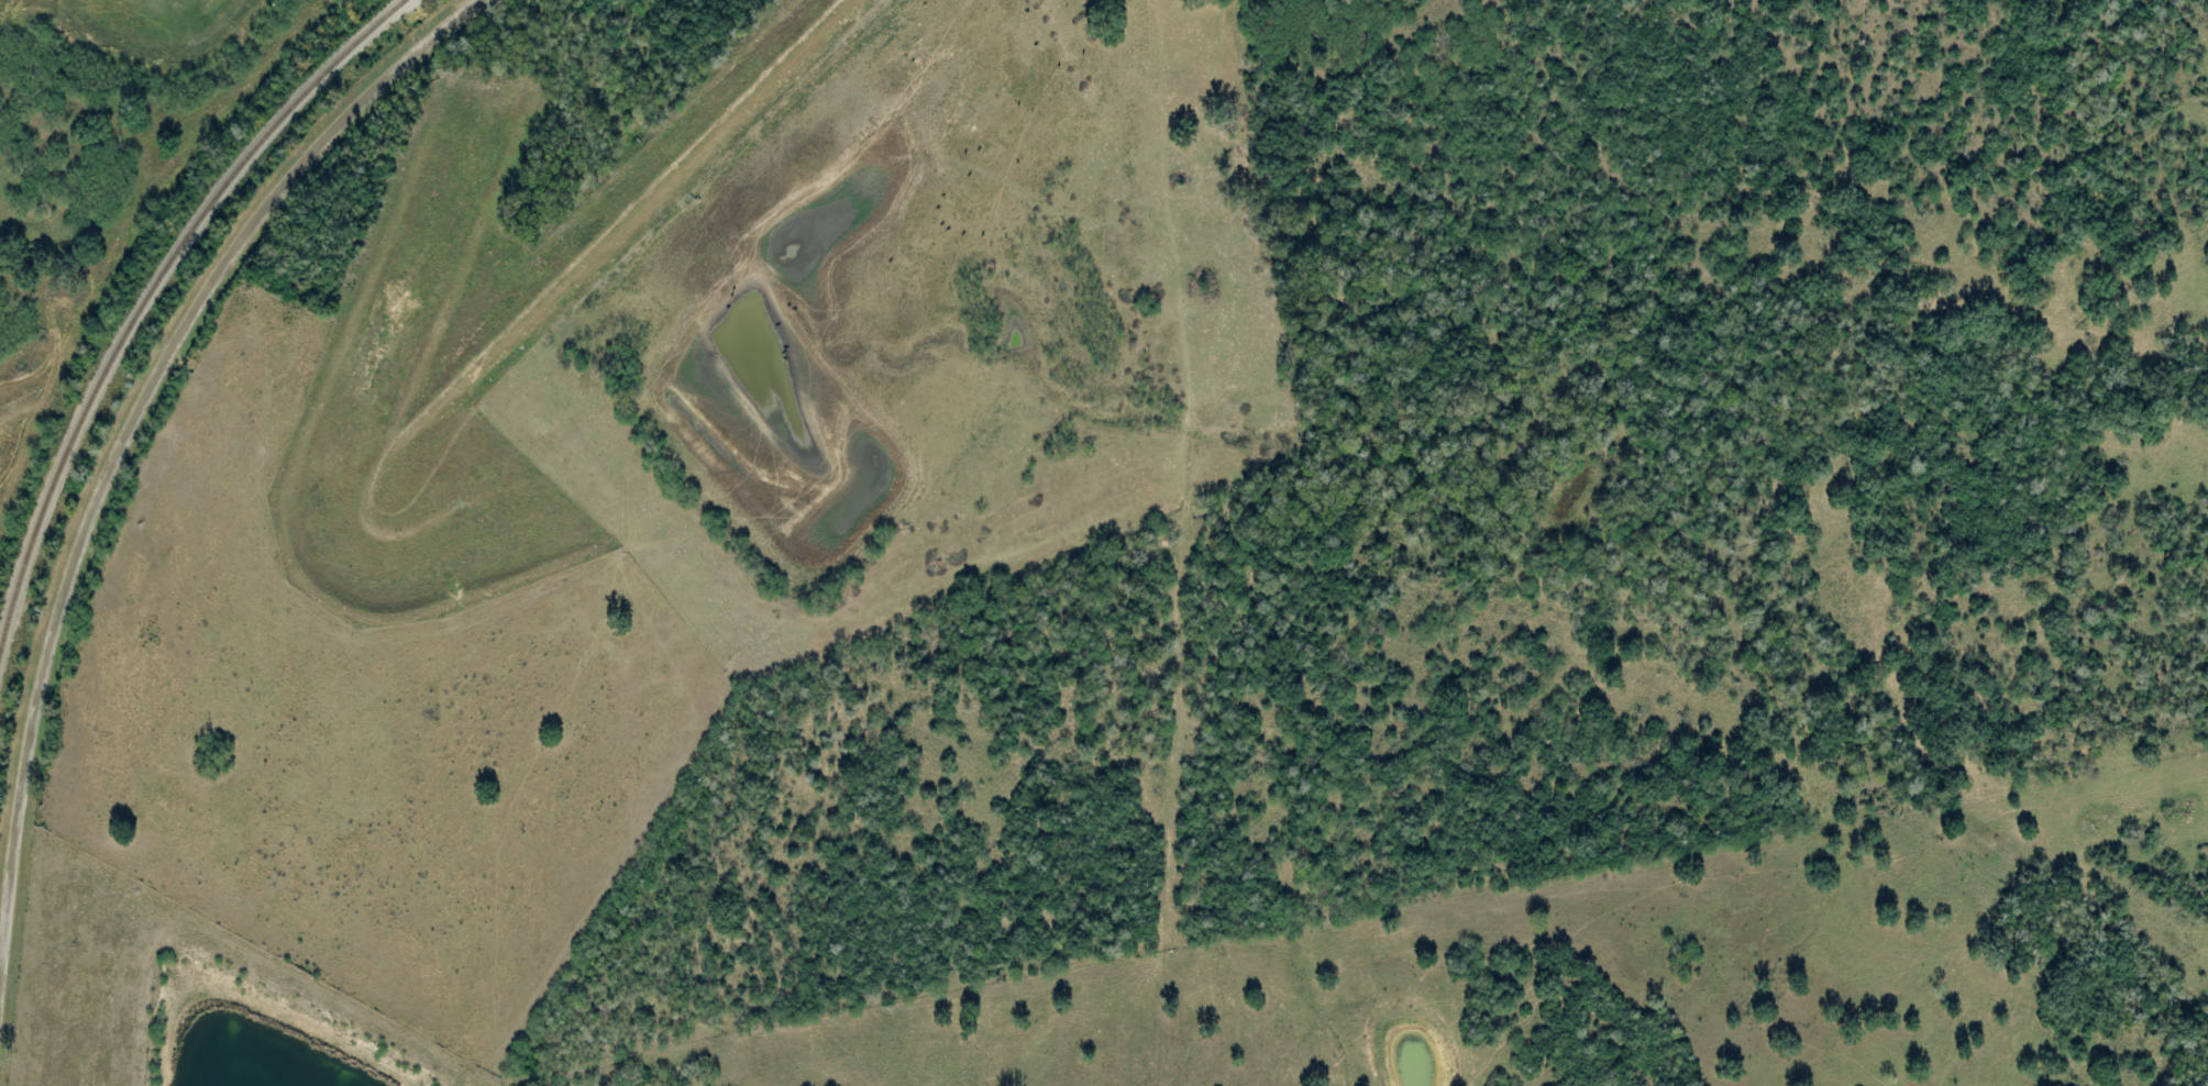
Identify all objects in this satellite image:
railway: (151, 288)
road: (122, 450)
road: (1296, 574)
road: (220, 989)

